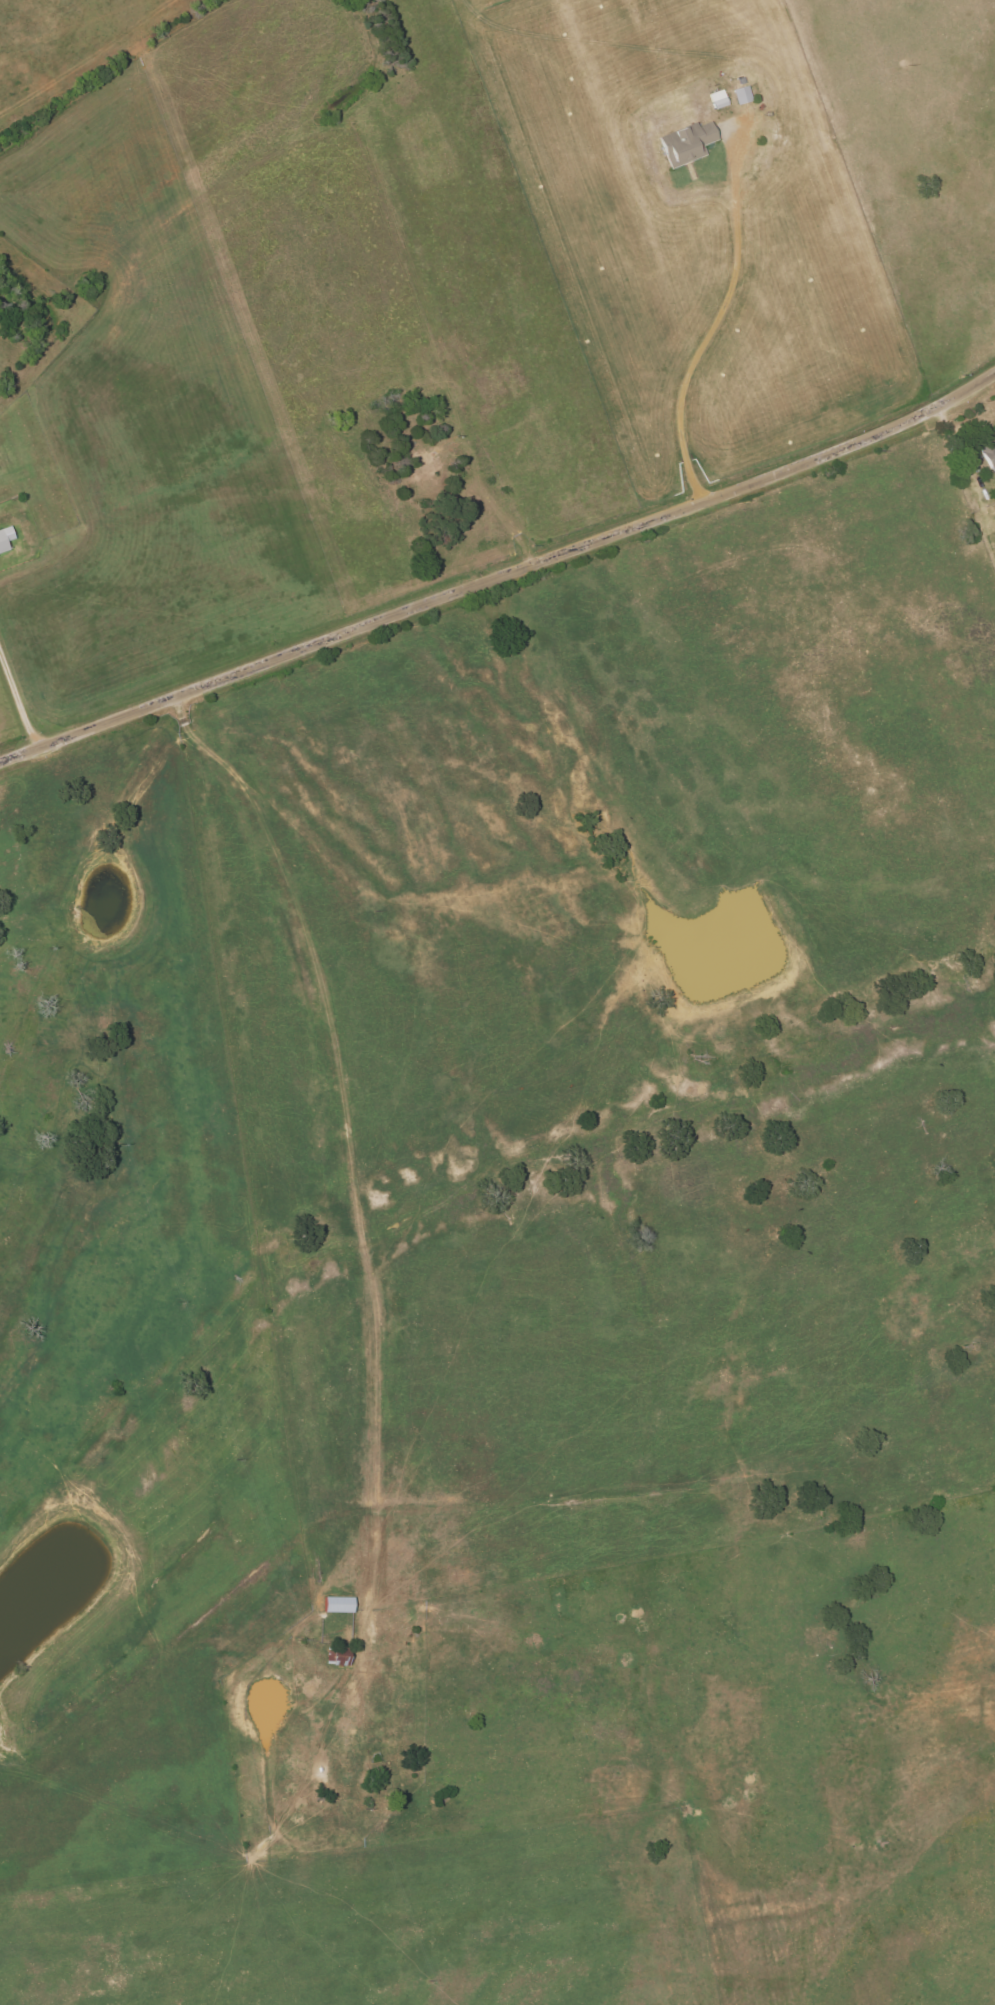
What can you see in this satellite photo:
building: (719, 99)
building: (687, 143)
road: (705, 342)
building: (989, 454)
building: (5, 539)
road: (500, 574)
road: (18, 700)
road: (368, 1249)
building: (338, 1605)

